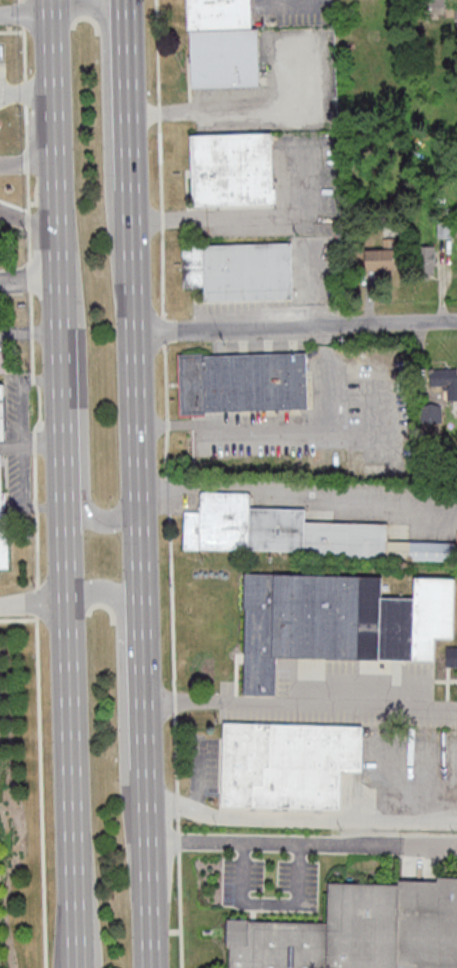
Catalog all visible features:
road: (292, 3)
road: (124, 4)
building: (430, 5)
road: (26, 9)
building: (223, 44)
road: (127, 84)
road: (105, 109)
road: (226, 109)
road: (28, 165)
building: (232, 168)
road: (56, 169)
road: (130, 172)
road: (247, 218)
road: (29, 219)
building: (445, 230)
building: (382, 259)
building: (427, 259)
building: (239, 269)
road: (13, 273)
road: (42, 273)
road: (30, 294)
road: (295, 324)
road: (13, 330)
road: (43, 330)
building: (3, 360)
building: (244, 381)
road: (21, 391)
road: (135, 392)
building: (437, 392)
road: (371, 401)
road: (81, 409)
building: (2, 413)
road: (63, 423)
road: (254, 432)
road: (11, 443)
road: (43, 443)
building: (325, 459)
road: (165, 484)
road: (15, 498)
building: (2, 513)
building: (274, 529)
road: (36, 602)
road: (33, 604)
building: (339, 621)
building: (452, 656)
road: (36, 664)
road: (142, 684)
road: (121, 685)
road: (300, 702)
road: (70, 739)
building: (288, 763)
road: (201, 778)
road: (299, 818)
road: (41, 839)
road: (302, 844)
road: (148, 866)
road: (267, 901)
road: (87, 929)
building: (358, 930)

